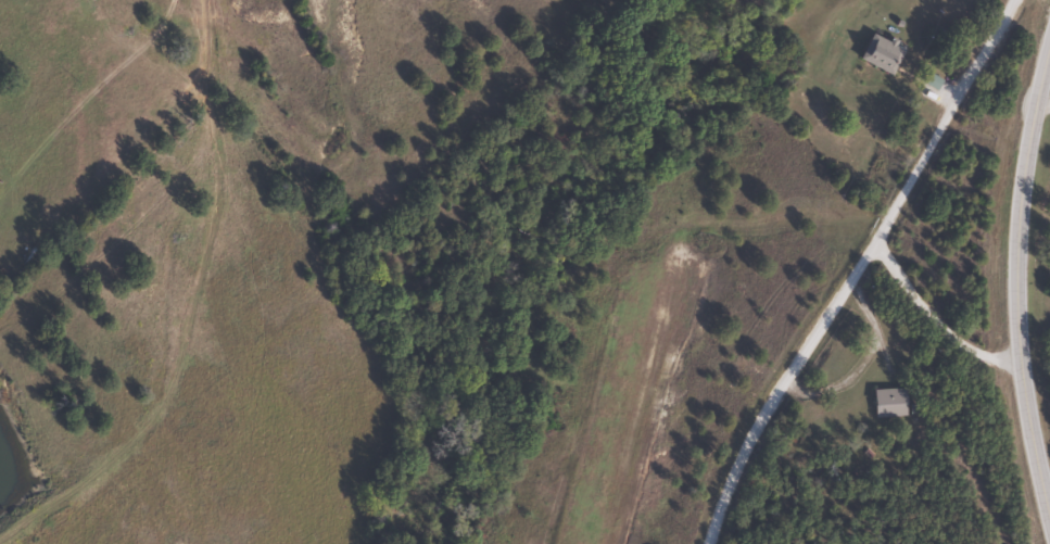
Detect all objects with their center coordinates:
building: (878, 54)
road: (838, 264)
road: (1015, 280)
building: (887, 404)

